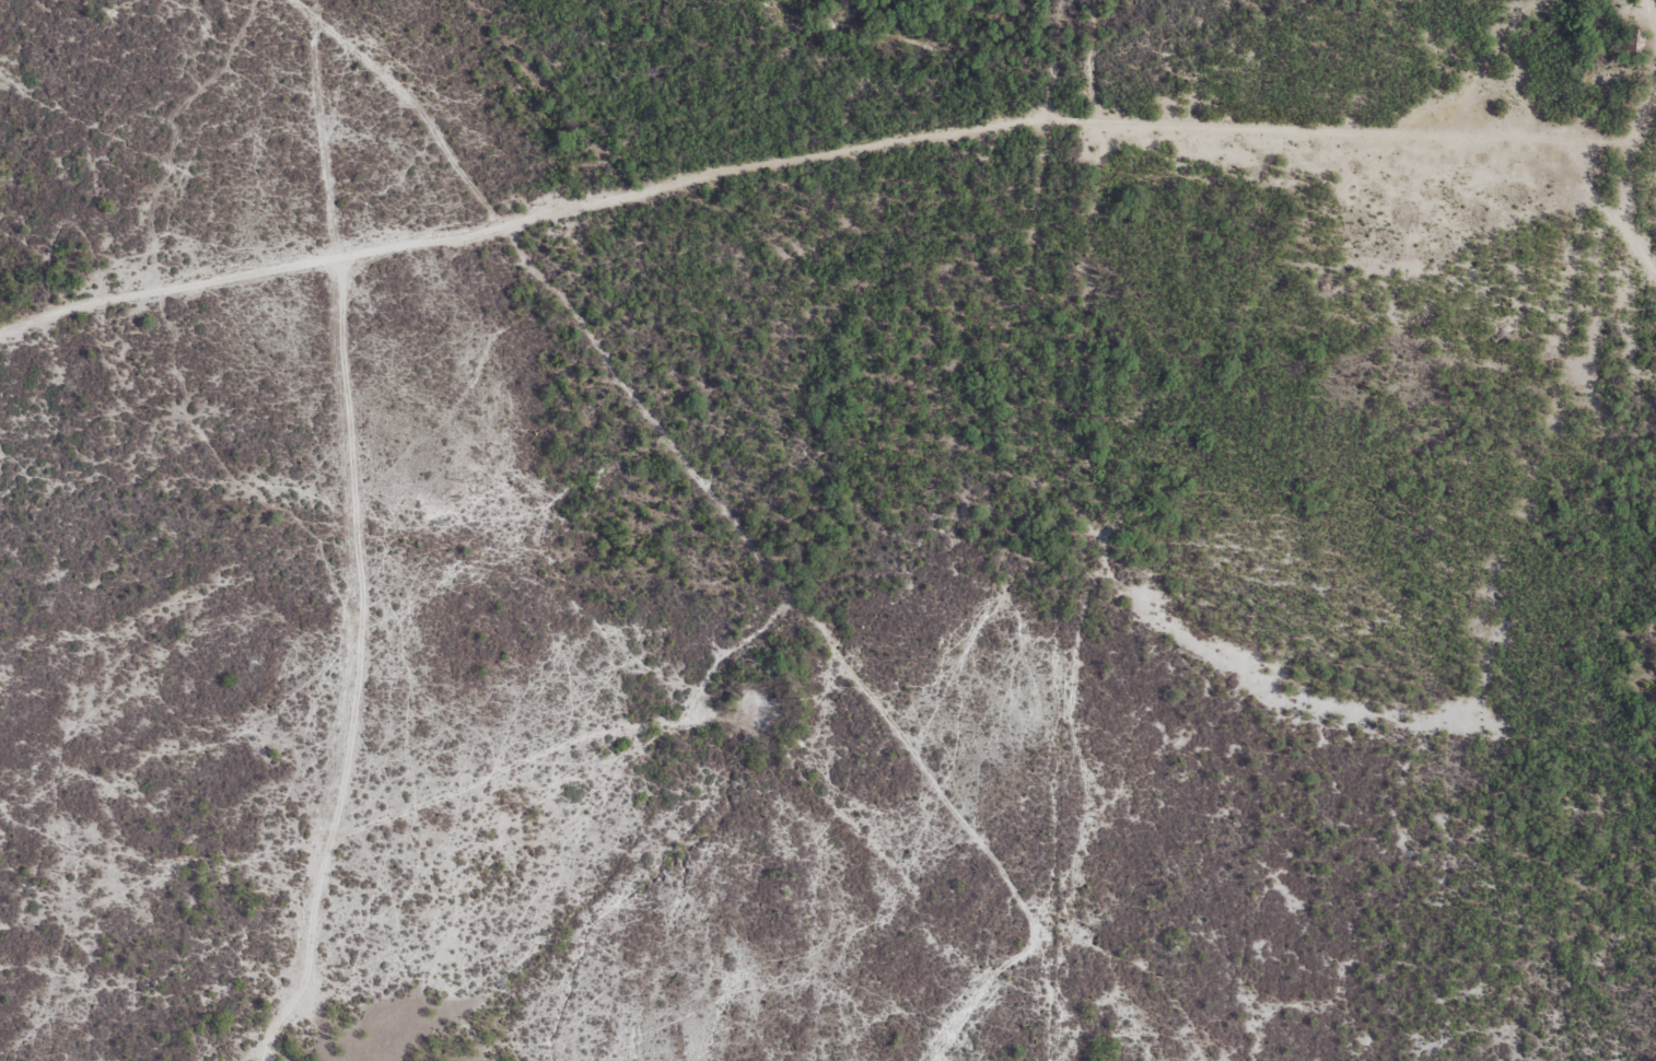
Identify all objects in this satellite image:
road: (1629, 187)

